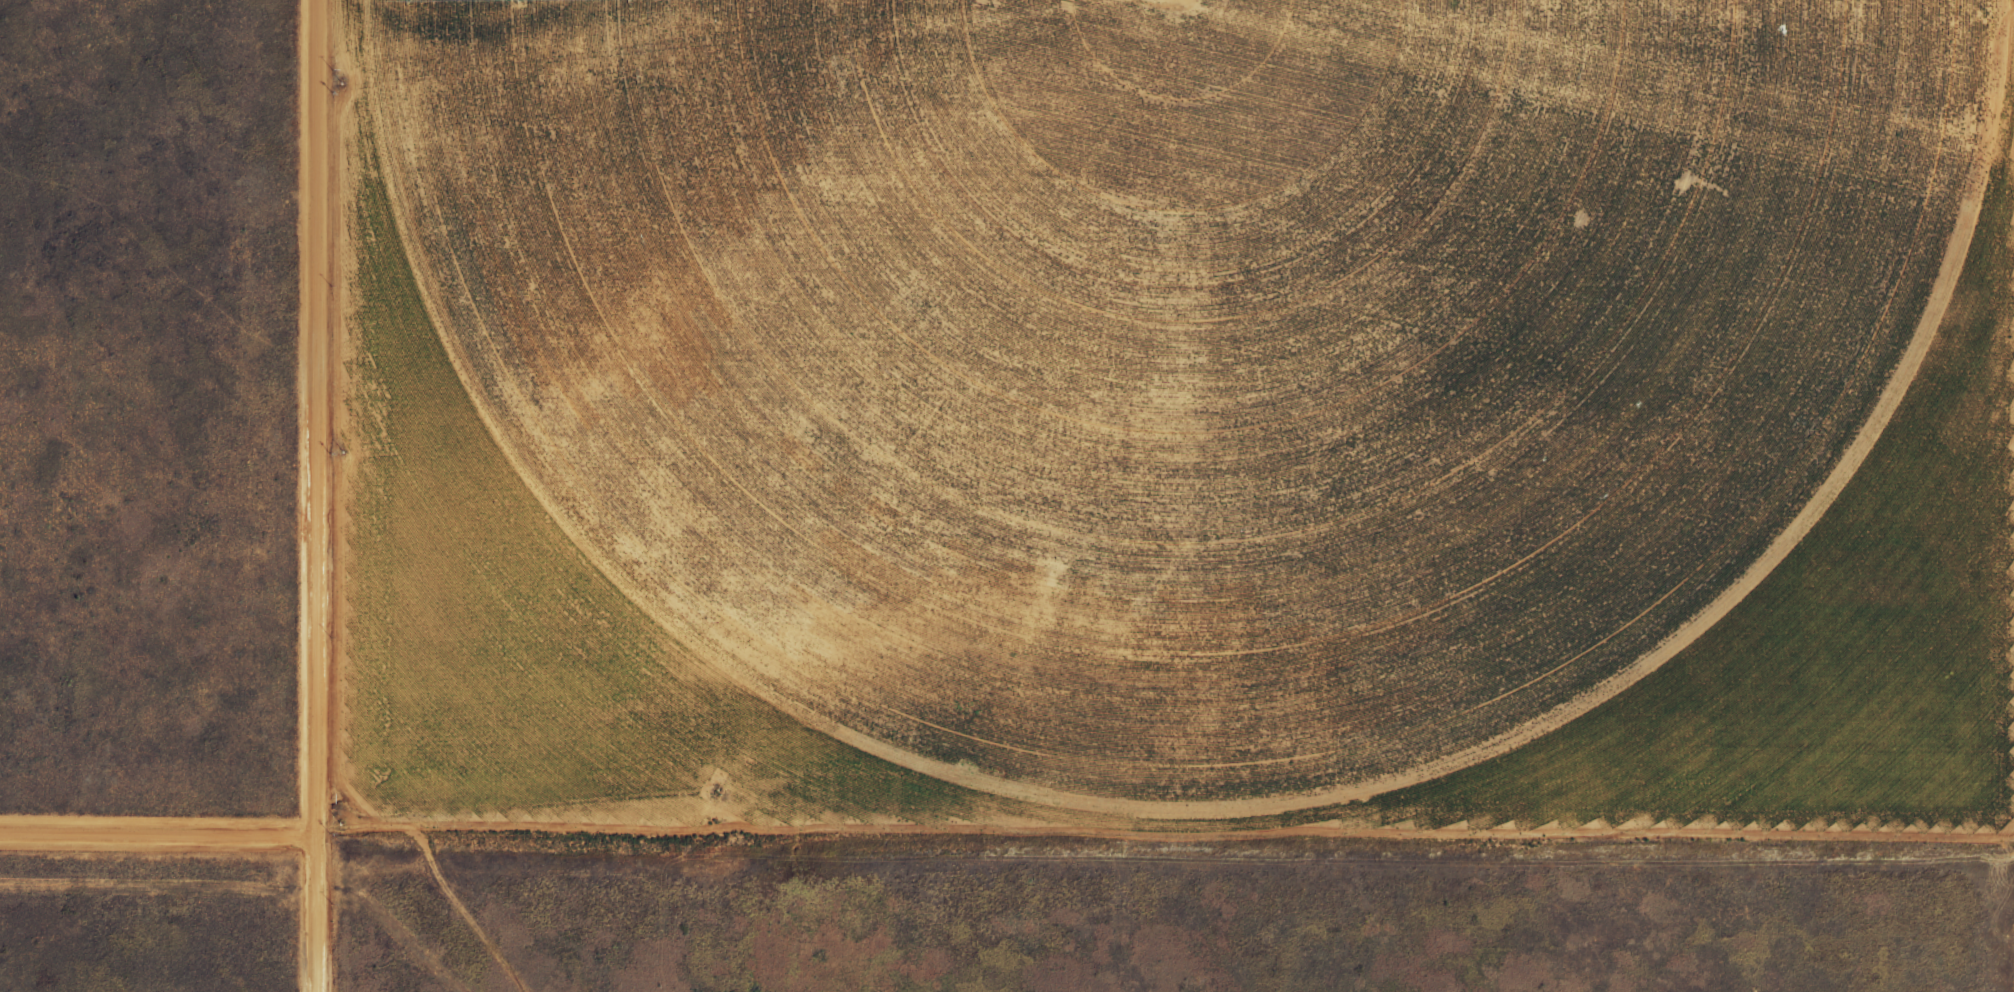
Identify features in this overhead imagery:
road: (343, 495)
road: (1006, 835)

